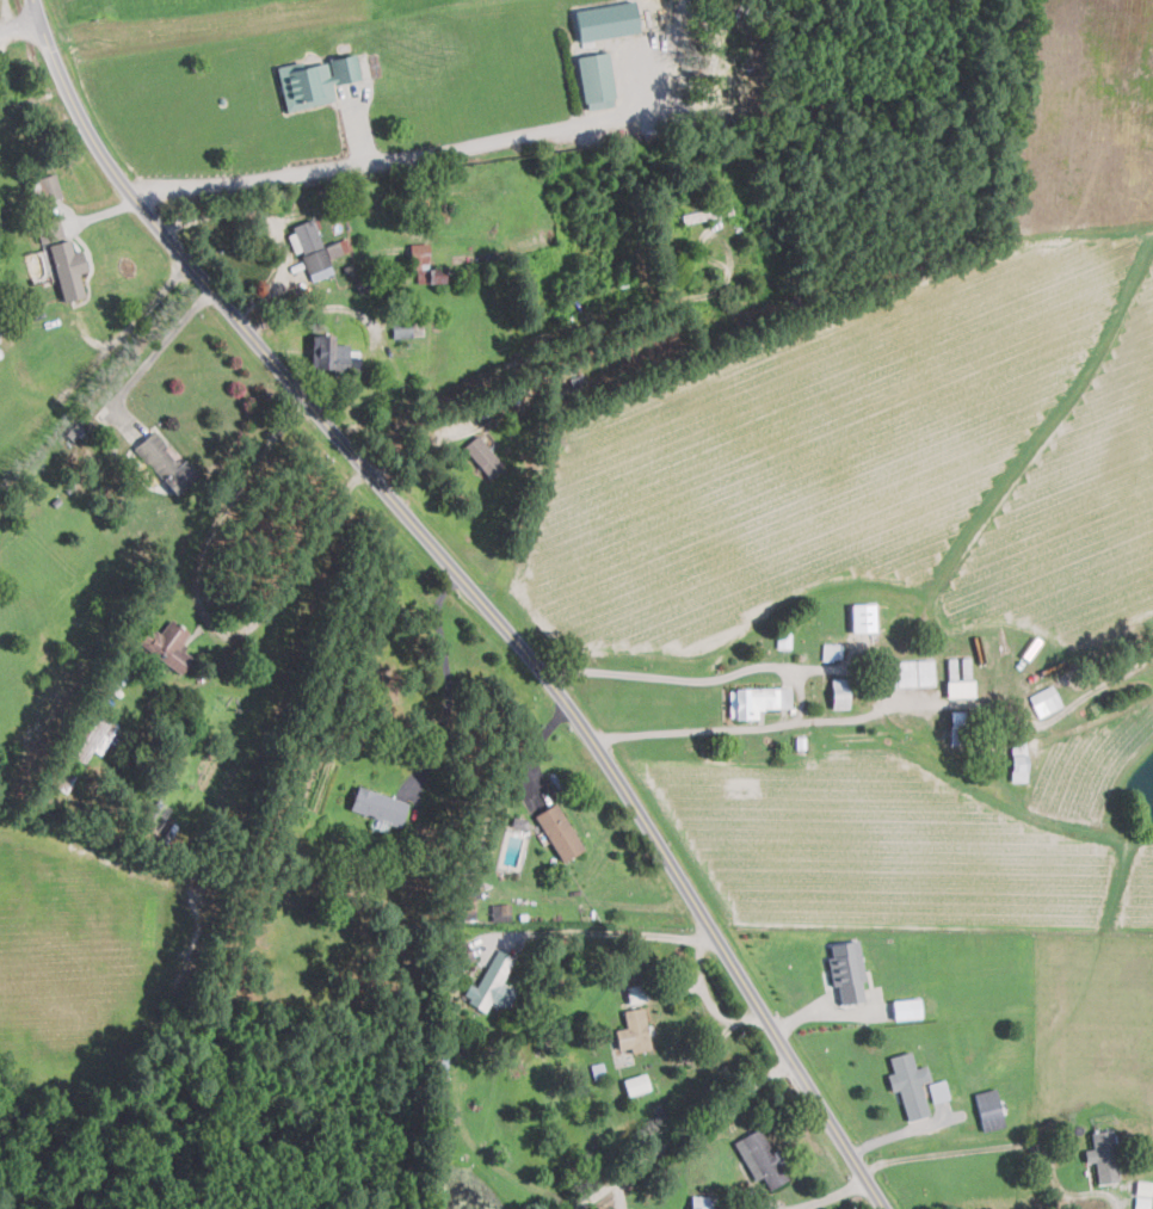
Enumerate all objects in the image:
building: (606, 19)
road: (18, 25)
building: (596, 79)
building: (314, 80)
road: (420, 153)
building: (45, 187)
building: (51, 227)
building: (315, 248)
building: (425, 265)
building: (68, 267)
building: (402, 328)
road: (159, 350)
building: (328, 352)
road: (50, 397)
building: (483, 456)
building: (164, 459)
road: (239, 501)
road: (477, 590)
building: (863, 617)
building: (783, 639)
building: (166, 643)
building: (832, 650)
building: (911, 672)
road: (448, 677)
road: (862, 679)
building: (960, 687)
building: (839, 692)
building: (757, 701)
building: (1046, 701)
building: (95, 736)
road: (536, 739)
building: (1018, 760)
building: (378, 806)
building: (559, 831)
building: (468, 903)
building: (500, 912)
road: (621, 932)
building: (847, 969)
building: (493, 982)
building: (636, 992)
building: (906, 1007)
building: (634, 1030)
building: (636, 1084)
building: (910, 1084)
building: (938, 1090)
building: (989, 1109)
road: (688, 1129)
road: (1010, 1146)
building: (1104, 1156)
building: (762, 1160)
road: (832, 1192)
building: (1142, 1195)
building: (704, 1202)

